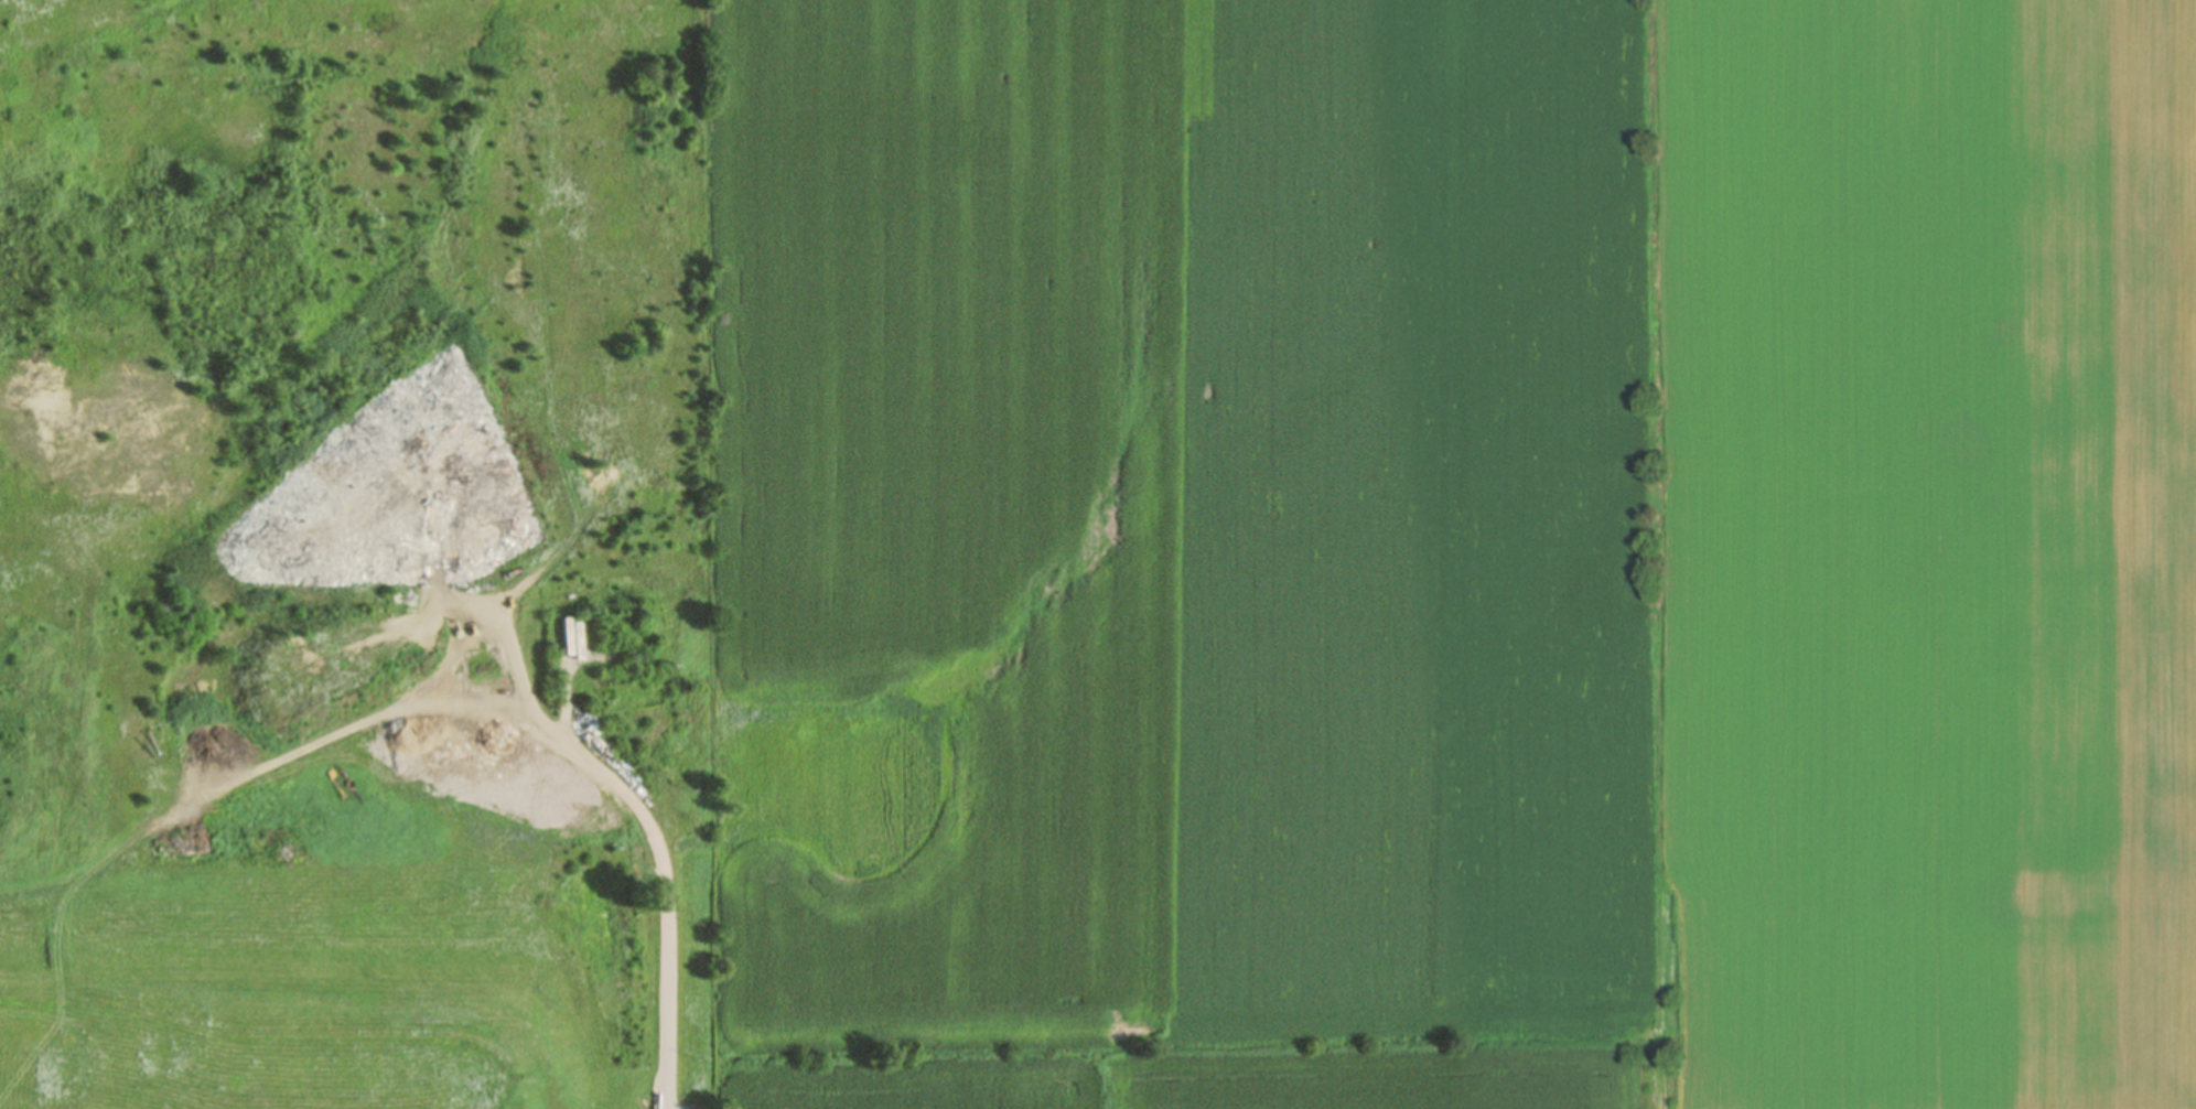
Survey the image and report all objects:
landfill: (357, 556)
road: (668, 893)
road: (1662, 947)
road: (1429, 1029)

